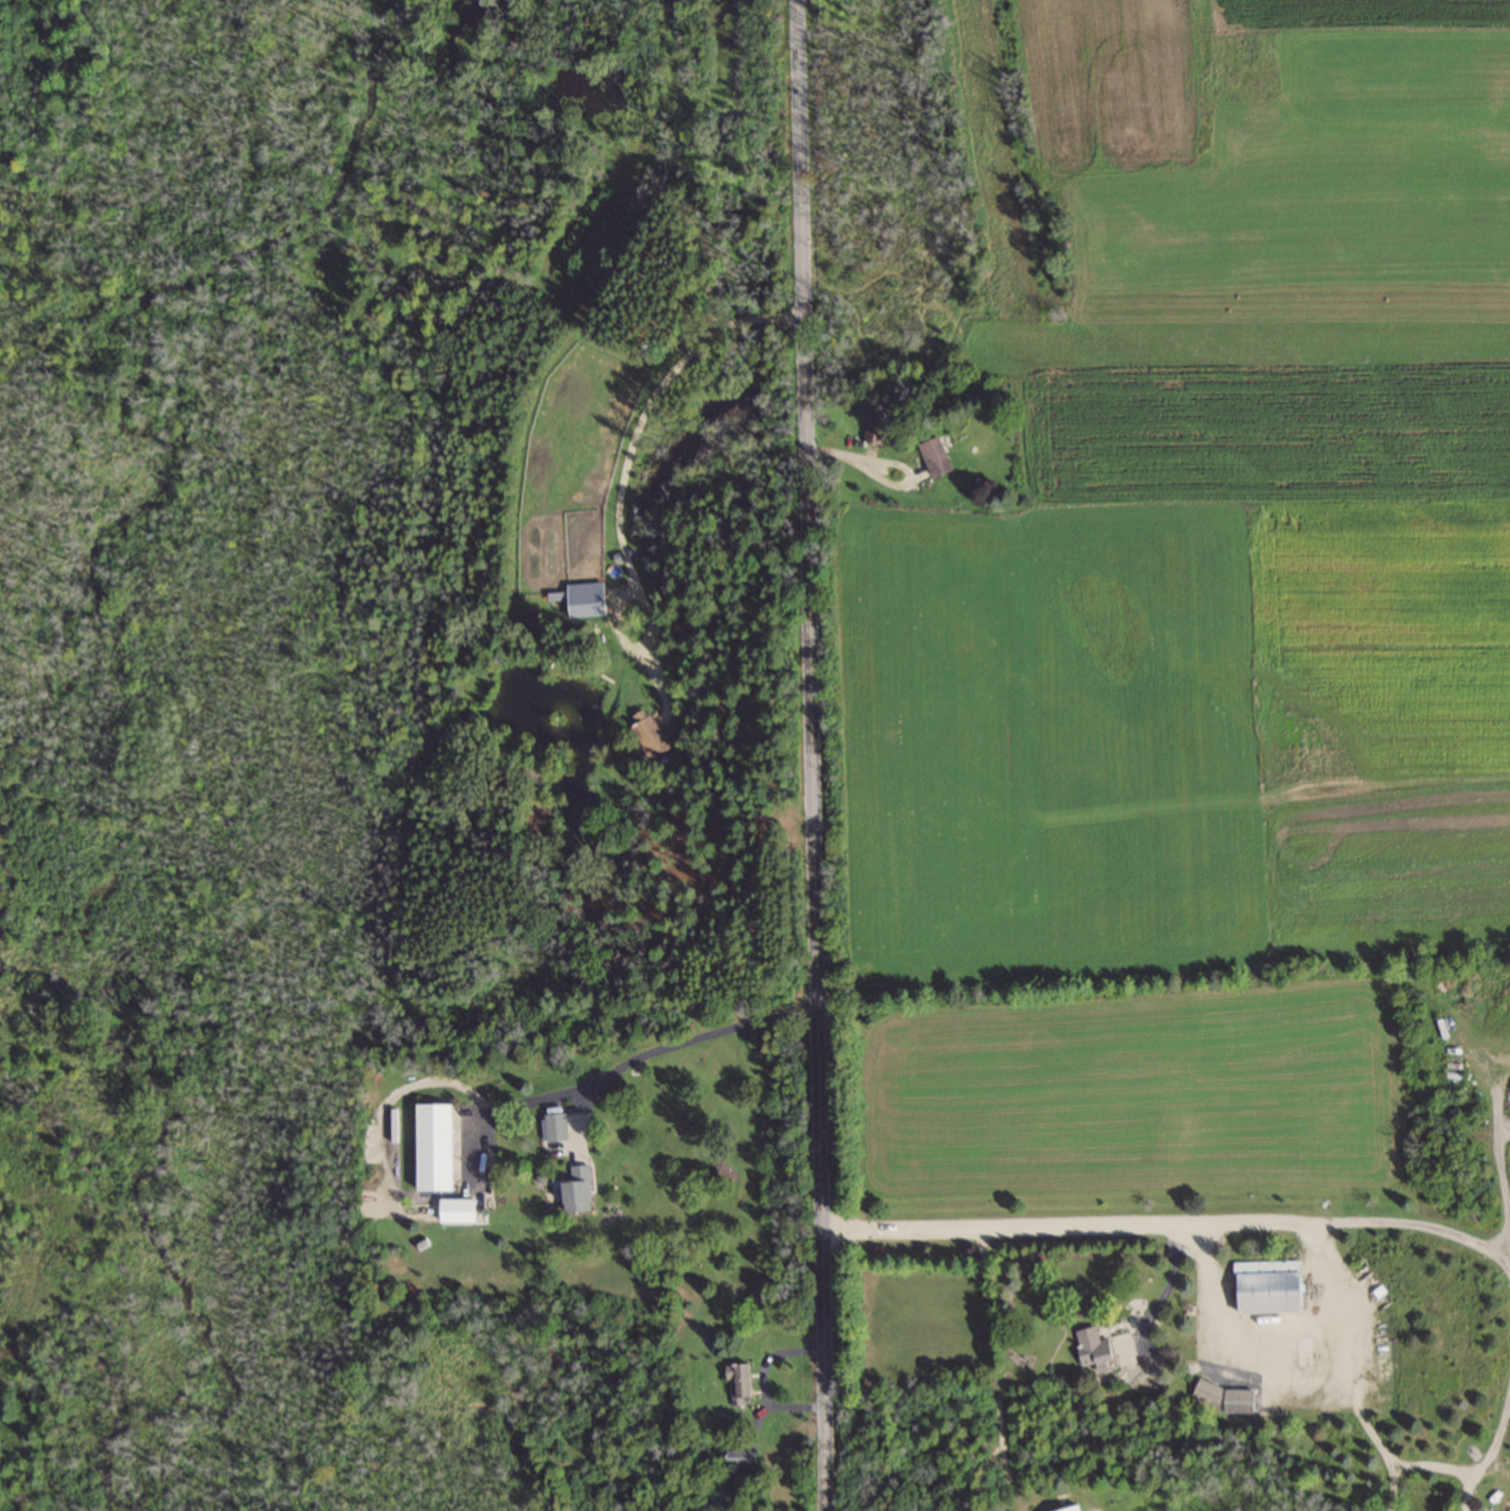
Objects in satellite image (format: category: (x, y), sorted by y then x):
road: (635, 426)
building: (938, 460)
building: (652, 737)
road: (815, 755)
road: (623, 1069)
building: (554, 1128)
building: (432, 1147)
road: (1503, 1178)
building: (575, 1192)
road: (1175, 1227)
road: (1168, 1286)
building: (1267, 1287)
road: (1266, 1346)
building: (1093, 1350)
building: (736, 1383)
building: (1223, 1398)
building: (738, 1459)
road: (1397, 1465)
road: (1390, 1487)
road: (1464, 1492)
building: (1072, 1509)

